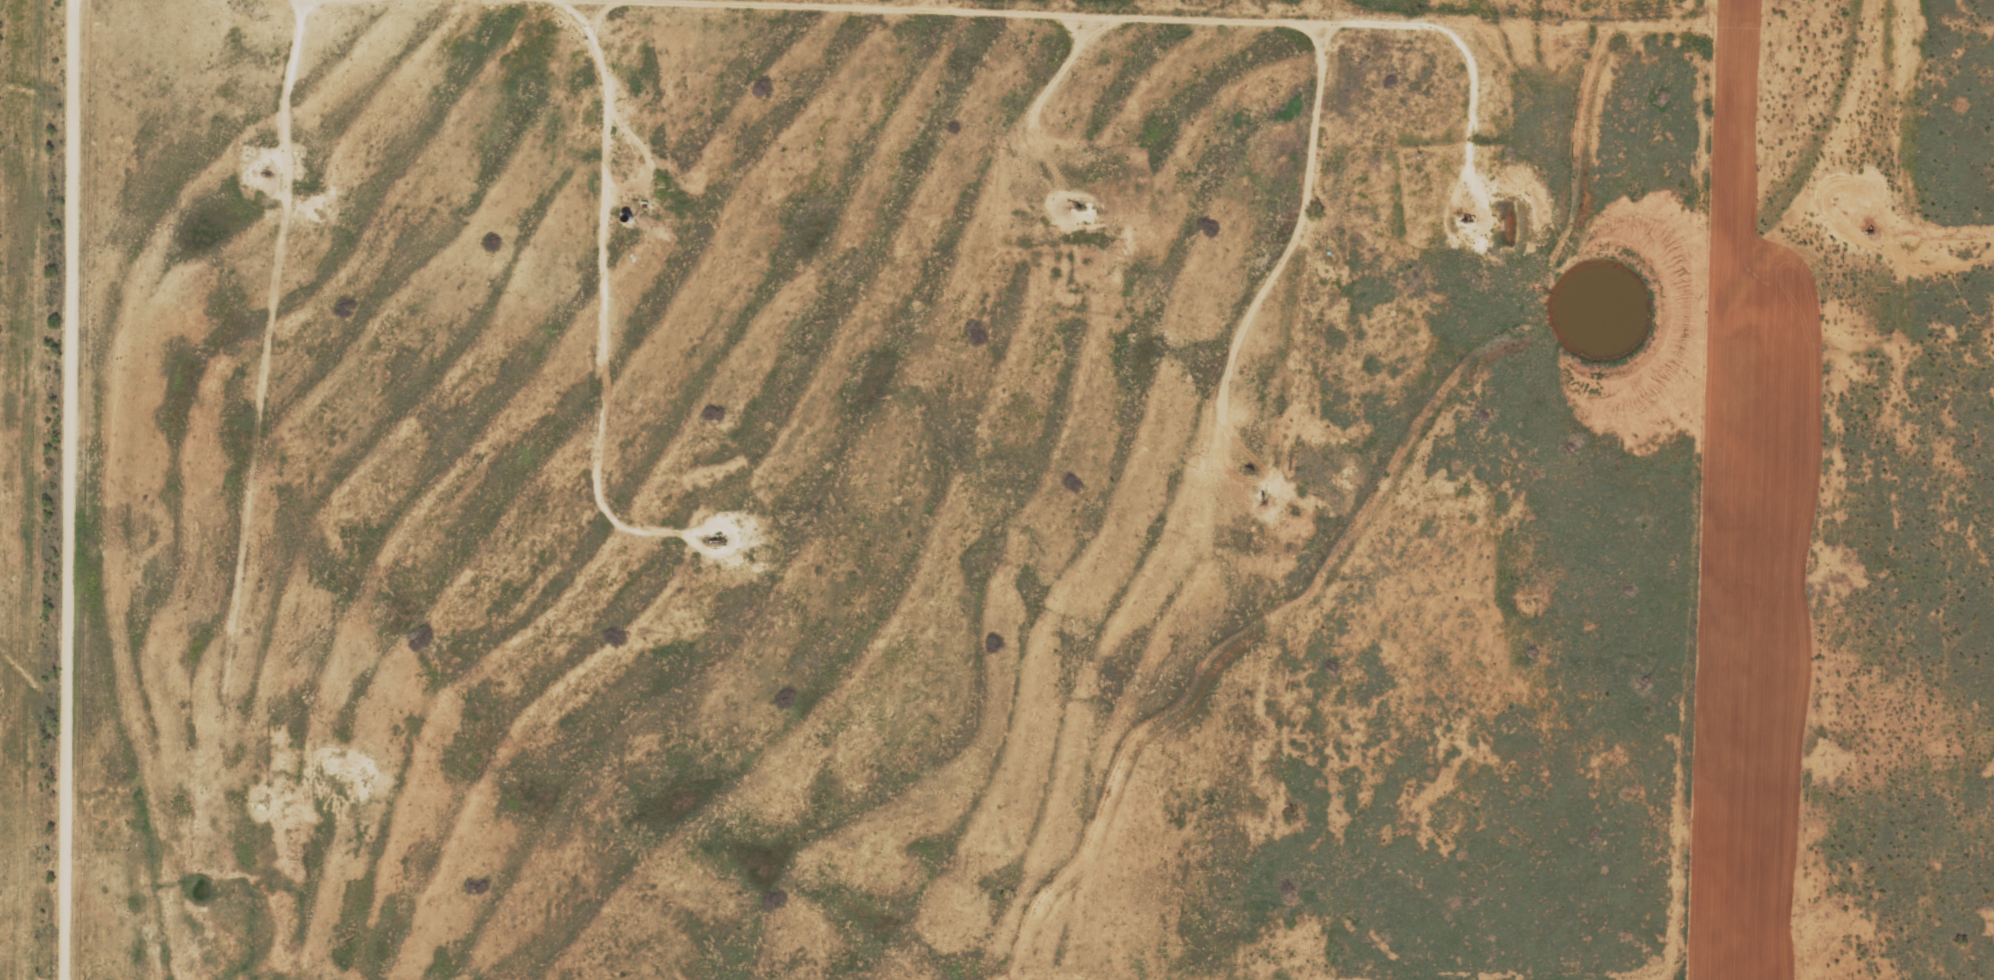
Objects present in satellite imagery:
road: (1199, 35)
road: (77, 480)

